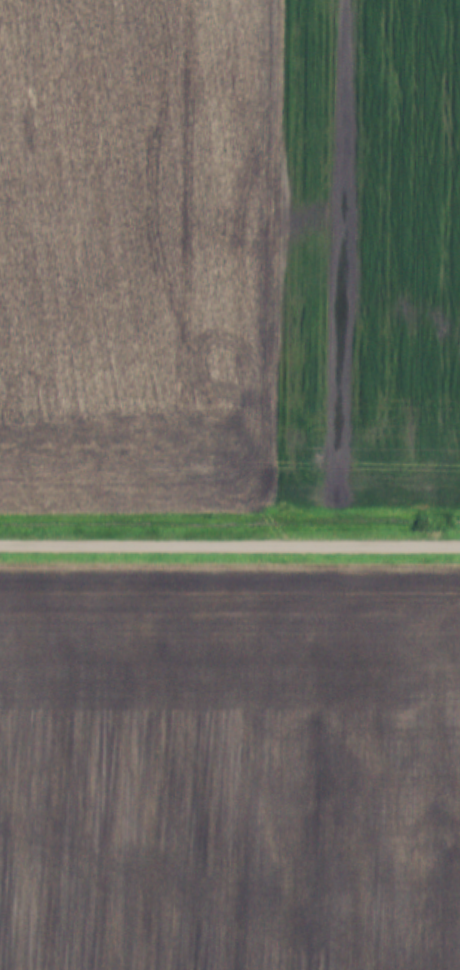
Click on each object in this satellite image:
road: (230, 543)

